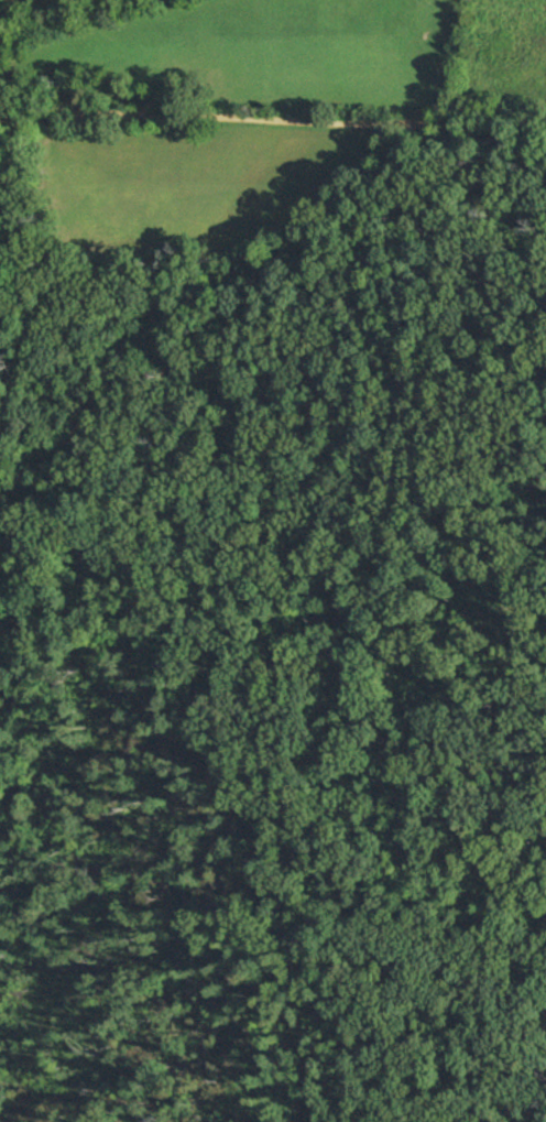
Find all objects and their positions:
road: (273, 117)

